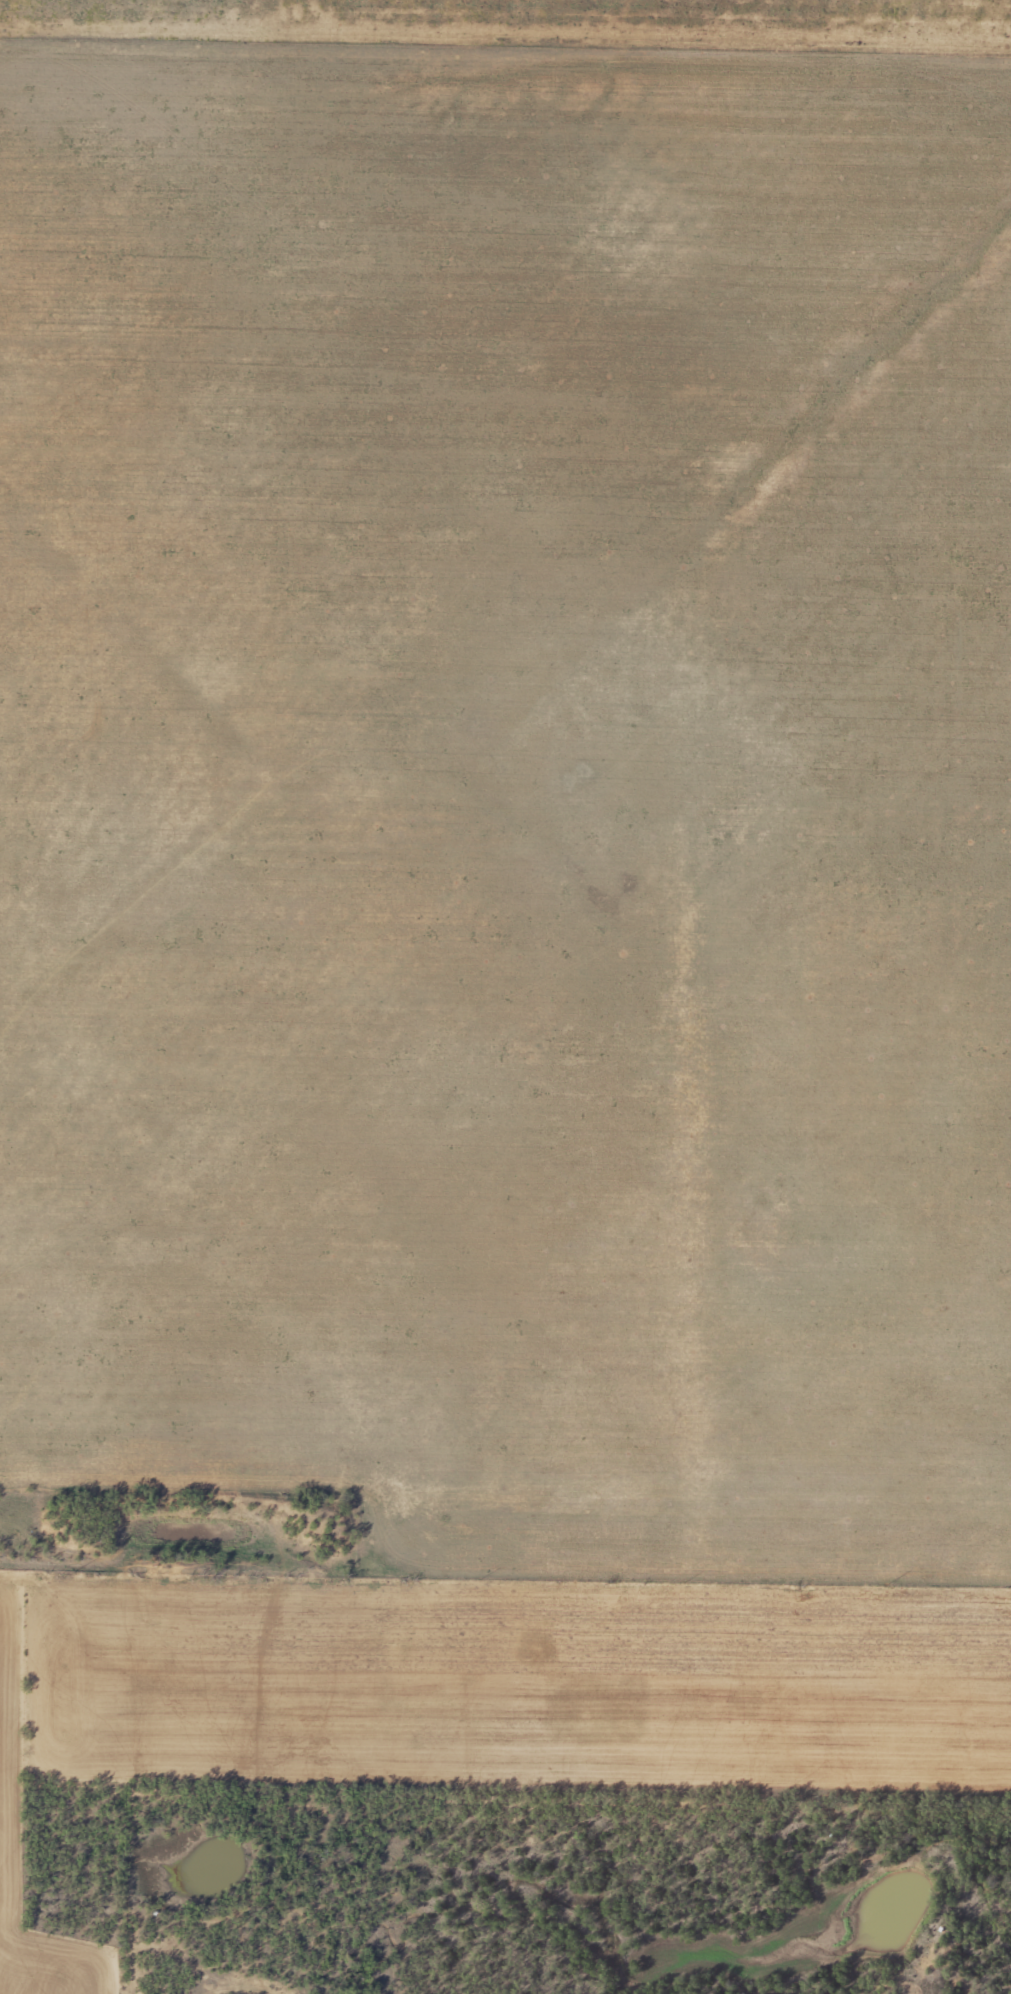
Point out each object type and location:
road: (26, 1859)

